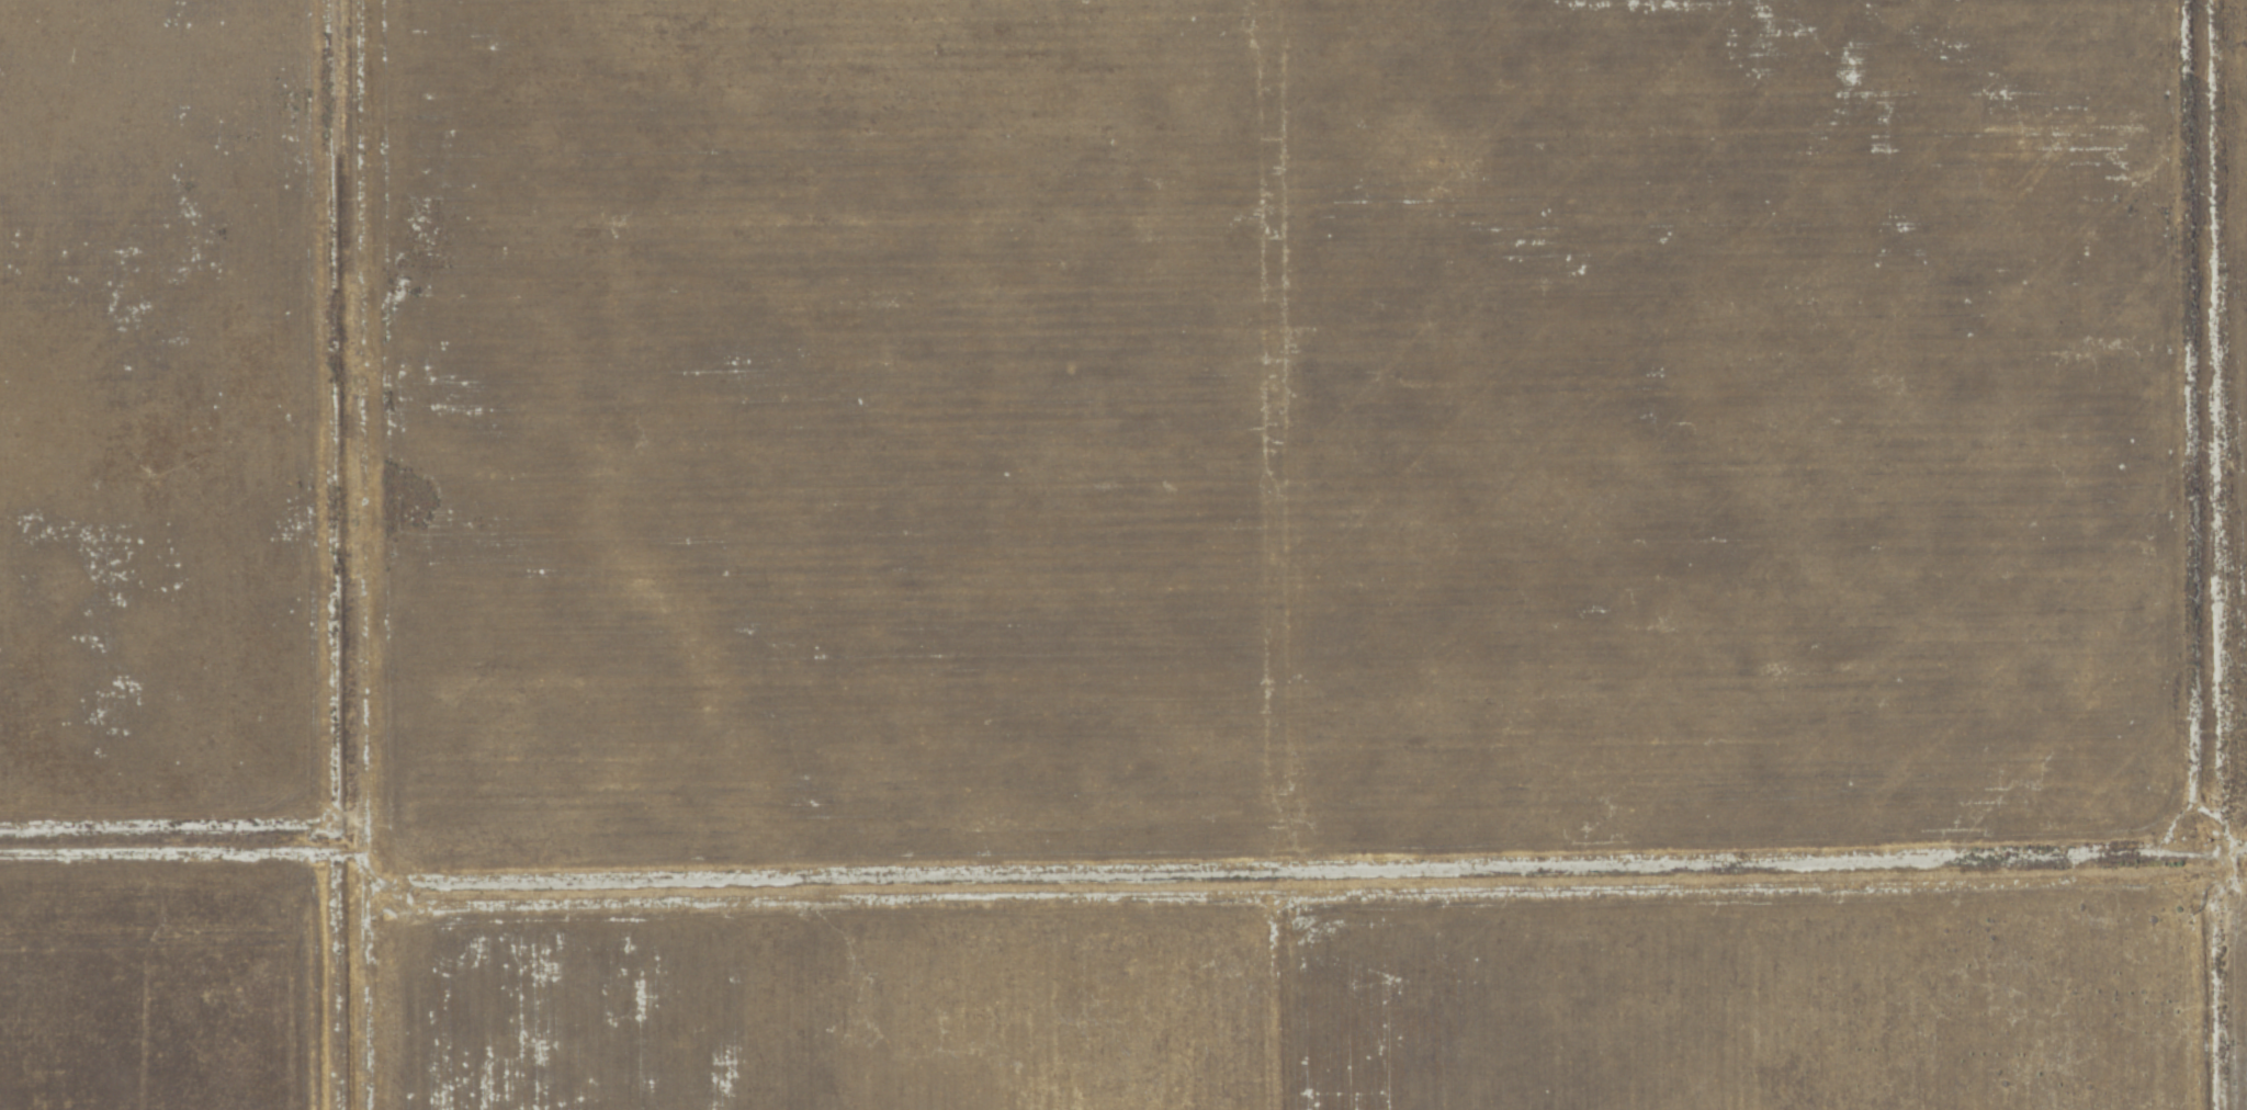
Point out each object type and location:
crop: (1158, 540)
park: (1314, 554)

